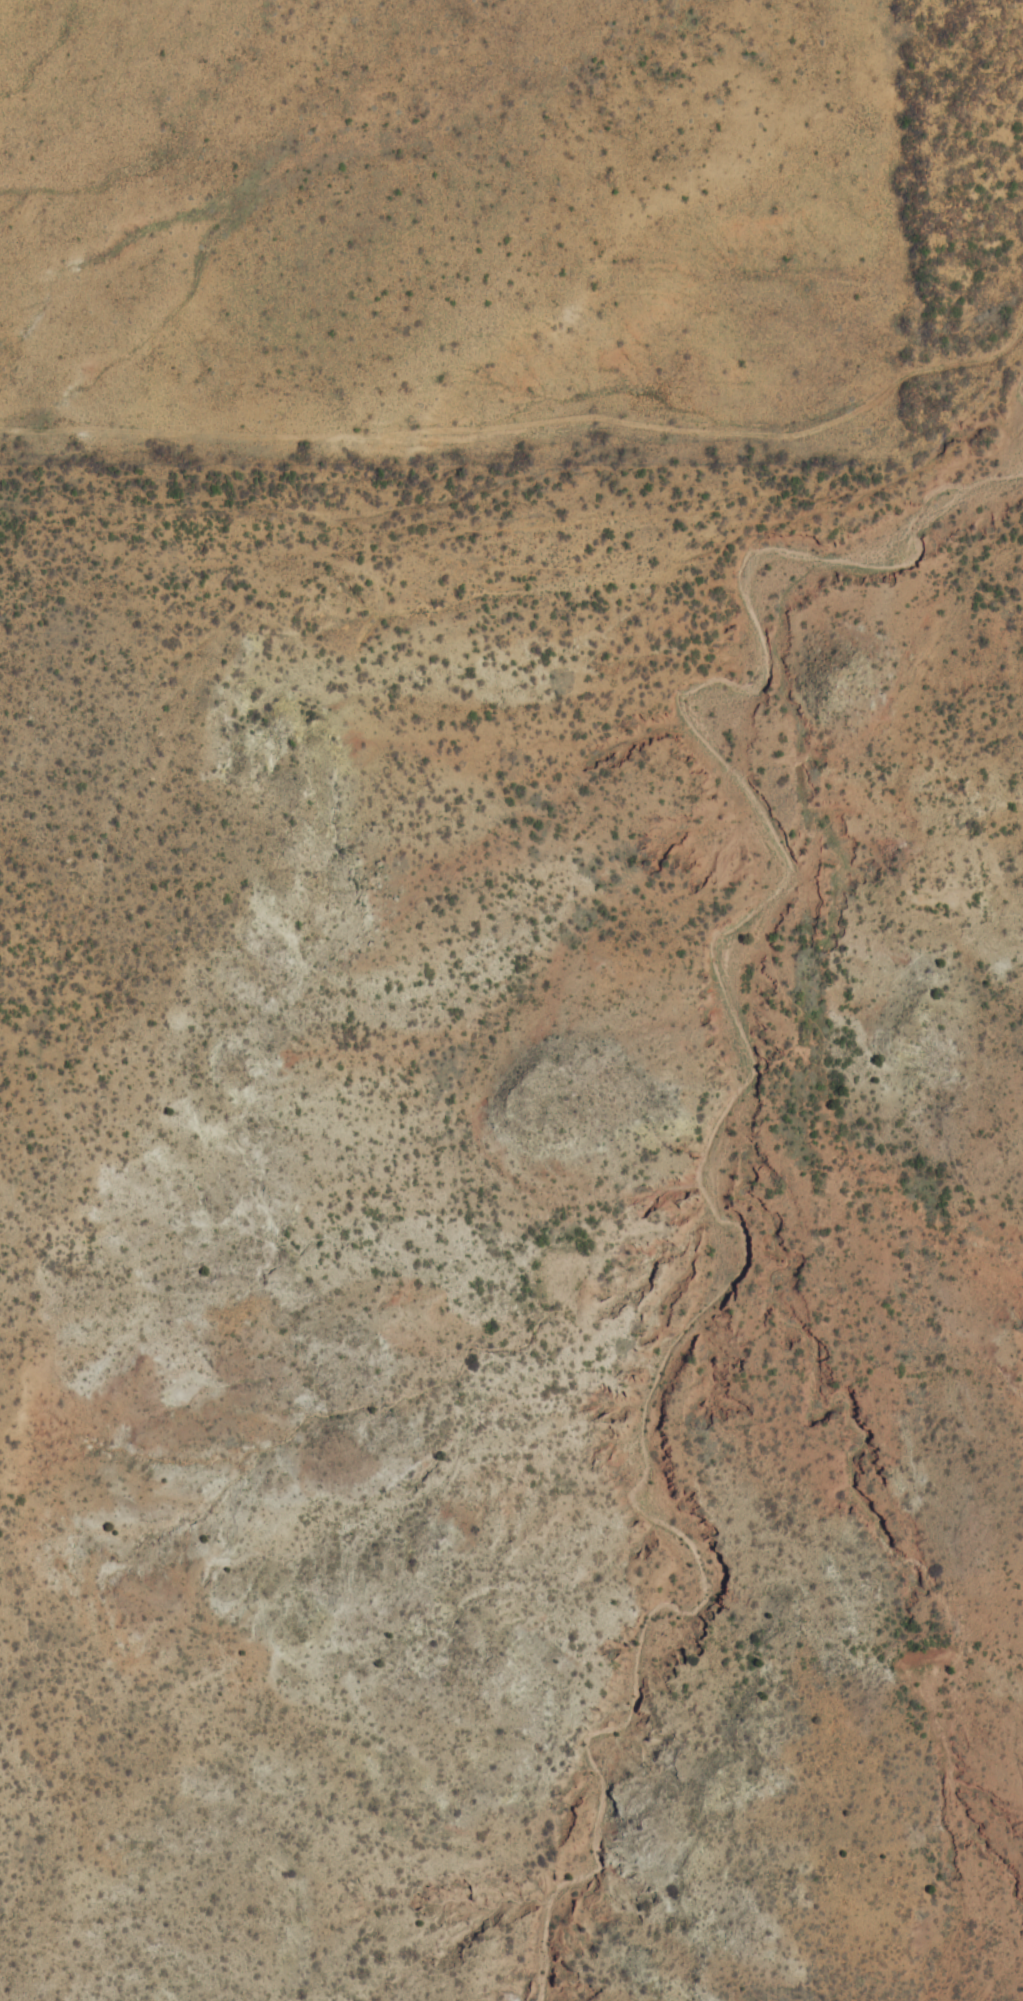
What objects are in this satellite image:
road: (985, 336)

